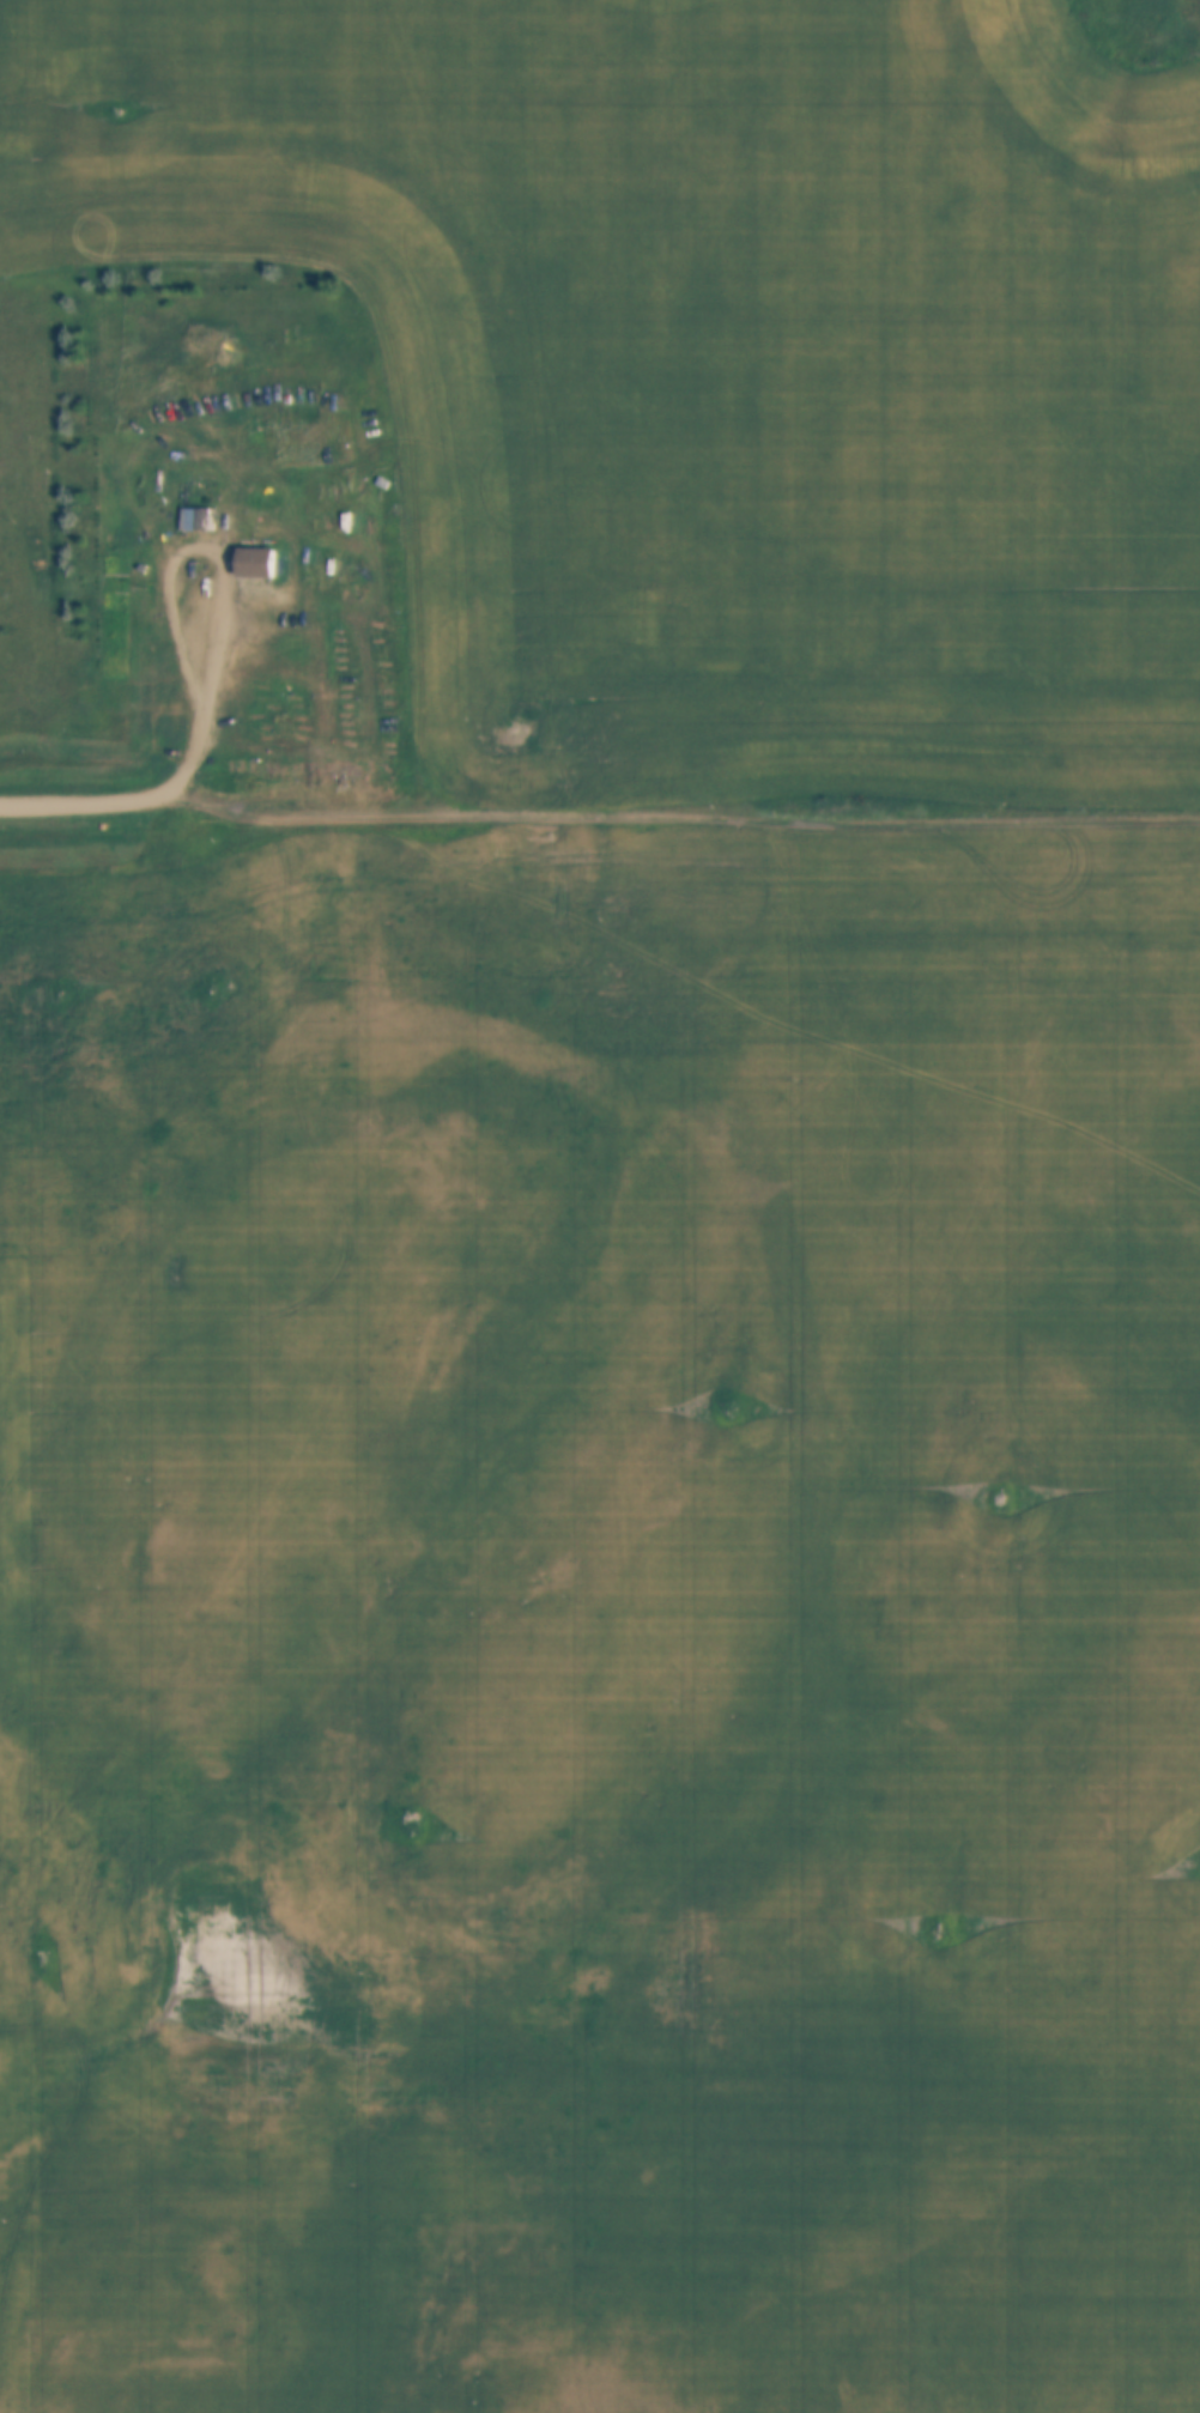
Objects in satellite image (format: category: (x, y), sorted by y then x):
building: (202, 511)
building: (262, 554)
road: (222, 563)
road: (77, 802)
road: (675, 818)

